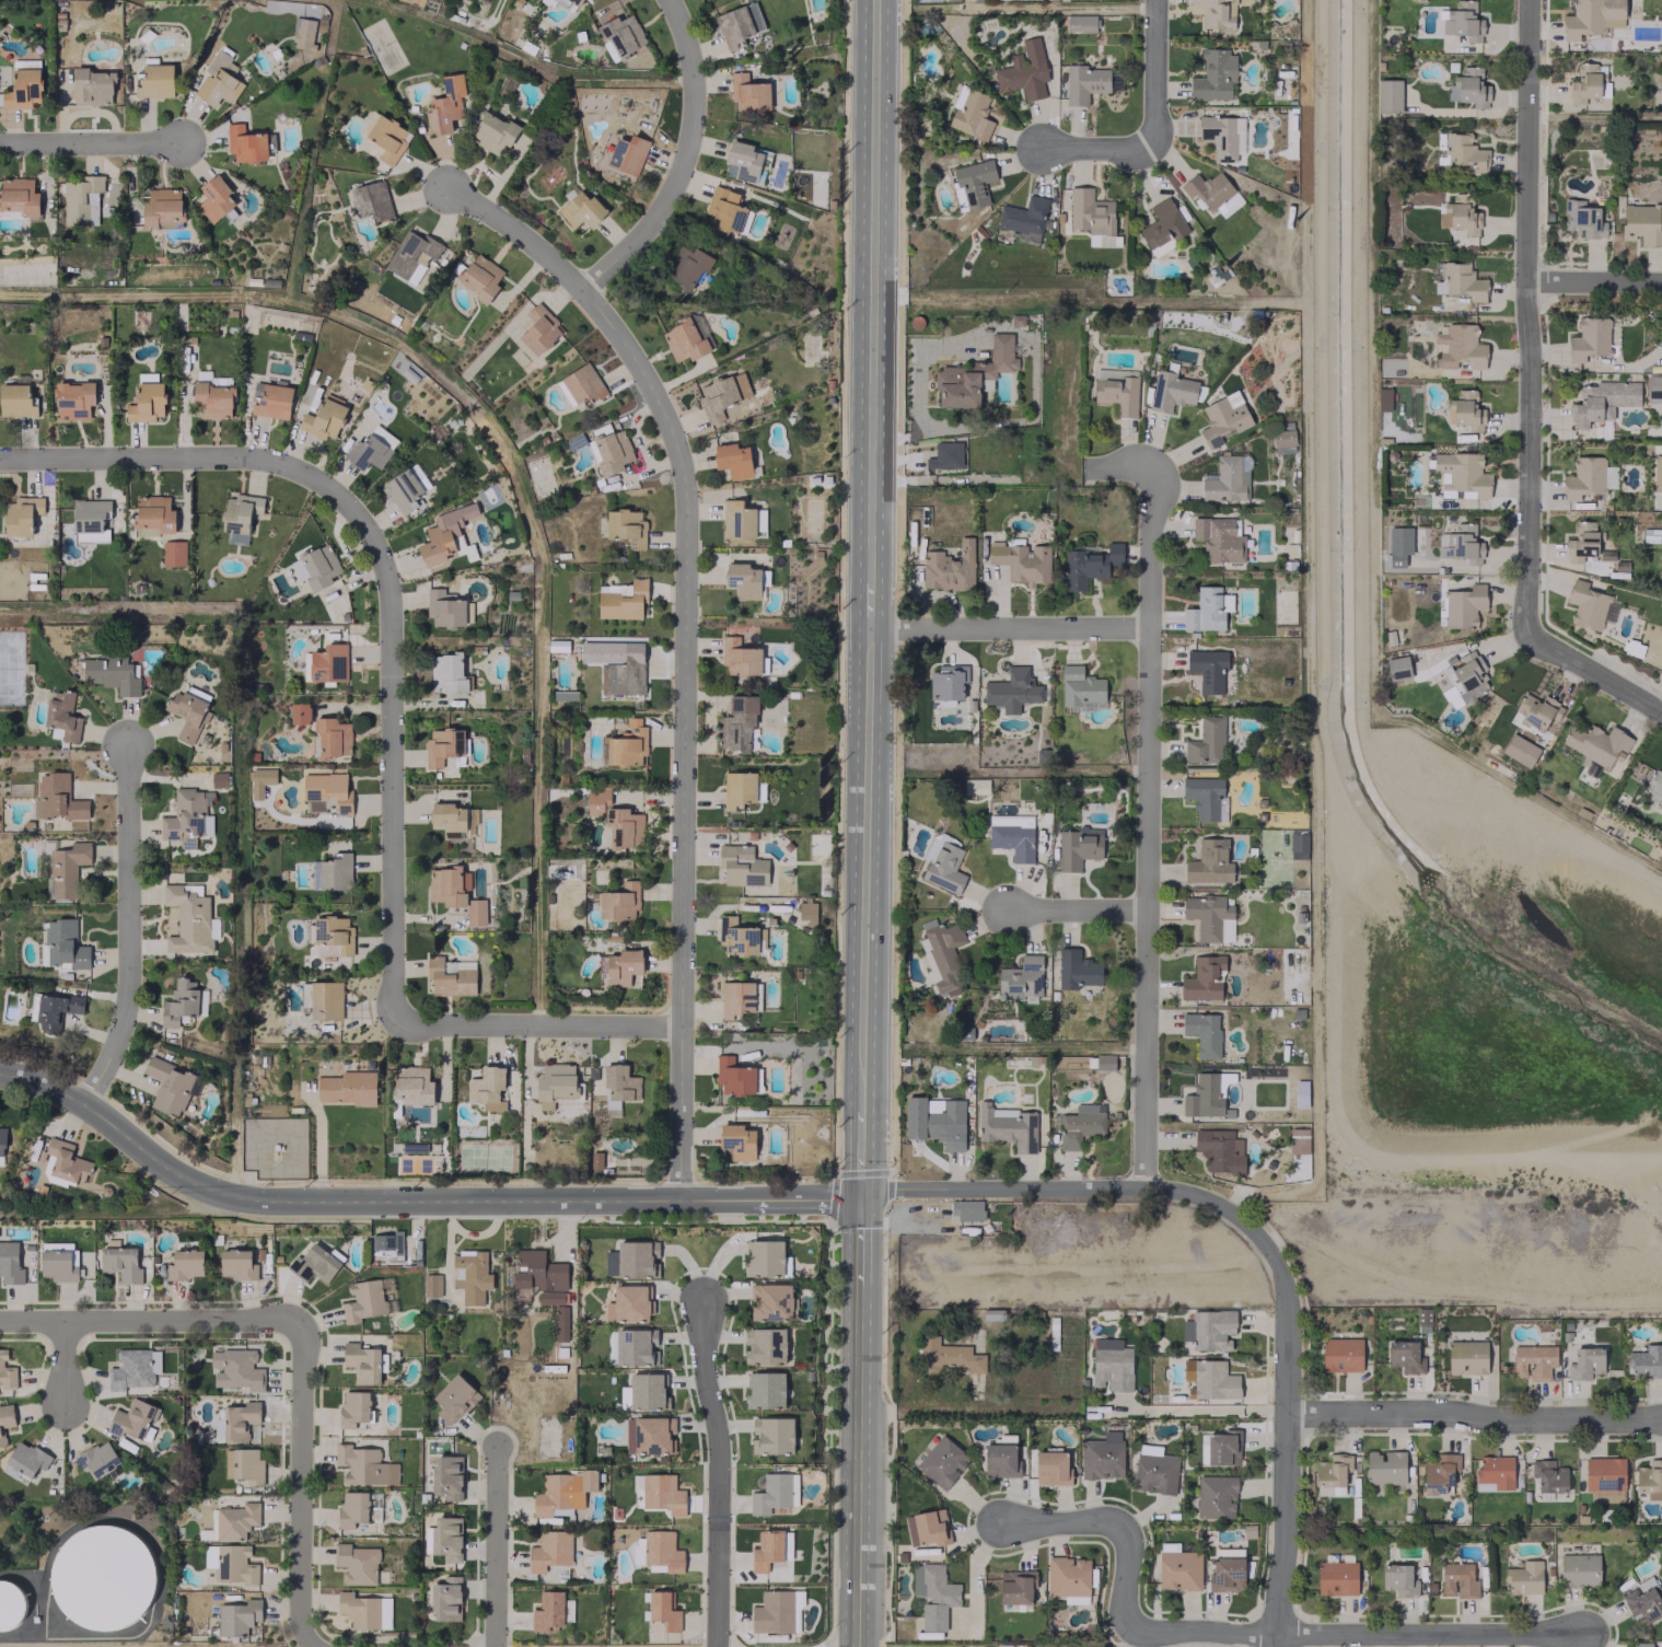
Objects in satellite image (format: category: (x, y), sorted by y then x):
building: (927, 0)
building: (576, 2)
building: (1212, 12)
building: (1591, 18)
building: (1463, 21)
building: (1080, 23)
building: (733, 25)
building: (304, 33)
building: (620, 35)
building: (1024, 71)
road: (1154, 74)
building: (1213, 76)
building: (154, 81)
building: (1084, 83)
building: (1584, 83)
building: (23, 84)
building: (94, 85)
building: (1472, 86)
building: (748, 93)
building: (1388, 95)
building: (445, 104)
building: (972, 115)
building: (492, 132)
building: (1222, 136)
building: (387, 138)
road: (93, 142)
building: (245, 143)
road: (1096, 148)
building: (1464, 153)
building: (743, 160)
building: (972, 182)
building: (1212, 192)
building: (19, 195)
building: (214, 198)
building: (370, 199)
building: (81, 200)
building: (162, 208)
building: (581, 209)
building: (724, 209)
building: (1460, 213)
building: (1092, 217)
building: (1024, 218)
building: (1583, 219)
building: (1641, 223)
building: (1162, 224)
road: (515, 232)
building: (412, 255)
building: (689, 264)
building: (1216, 276)
building: (480, 277)
building: (1460, 281)
road: (1594, 281)
road: (872, 312)
road: (1527, 314)
building: (538, 329)
building: (684, 339)
building: (1460, 346)
road: (1033, 353)
building: (973, 374)
building: (583, 383)
building: (1653, 387)
building: (1116, 391)
building: (1171, 391)
building: (211, 396)
building: (717, 397)
building: (73, 398)
building: (16, 399)
building: (146, 399)
building: (270, 399)
building: (1601, 401)
building: (1467, 410)
building: (1282, 440)
building: (370, 448)
building: (611, 451)
building: (944, 455)
road: (164, 456)
building: (733, 459)
road: (1127, 464)
building: (1463, 473)
building: (1657, 473)
building: (1609, 476)
building: (1583, 477)
building: (1227, 478)
building: (406, 488)
building: (154, 513)
building: (21, 515)
building: (239, 515)
building: (90, 519)
building: (736, 519)
building: (1648, 525)
building: (626, 526)
building: (443, 533)
building: (1218, 538)
building: (1585, 543)
building: (1460, 544)
building: (1398, 545)
building: (173, 553)
building: (1022, 561)
road: (682, 564)
building: (1089, 565)
building: (316, 567)
building: (949, 568)
building: (743, 579)
building: (621, 599)
building: (1463, 605)
building: (1588, 605)
building: (444, 607)
building: (1205, 610)
road: (1009, 626)
building: (740, 657)
building: (325, 663)
building: (1397, 666)
building: (1207, 669)
road: (1591, 671)
building: (112, 673)
building: (446, 673)
building: (623, 676)
building: (945, 684)
building: (1080, 689)
building: (1012, 691)
building: (187, 710)
building: (299, 712)
building: (62, 715)
building: (736, 723)
building: (333, 736)
road: (390, 741)
building: (1206, 741)
building: (1595, 743)
building: (627, 744)
building: (442, 745)
building: (1520, 750)
building: (219, 779)
building: (259, 781)
building: (1654, 782)
building: (737, 788)
building: (326, 792)
building: (1205, 797)
building: (57, 798)
building: (187, 817)
building: (449, 819)
building: (615, 819)
building: (751, 834)
building: (1012, 835)
road: (1144, 835)
building: (787, 845)
building: (1298, 846)
building: (1078, 847)
building: (1209, 862)
building: (741, 865)
road: (868, 866)
building: (66, 868)
building: (944, 868)
building: (332, 872)
building: (449, 885)
building: (619, 901)
road: (1074, 908)
building: (476, 912)
building: (806, 912)
building: (1209, 917)
building: (189, 919)
road: (126, 926)
building: (330, 936)
building: (736, 936)
building: (65, 944)
building: (943, 954)
building: (620, 966)
building: (1077, 969)
building: (453, 977)
building: (1202, 977)
building: (1020, 978)
building: (735, 997)
building: (325, 1000)
building: (178, 1002)
building: (55, 1009)
road: (537, 1024)
building: (1202, 1032)
building: (1104, 1062)
building: (733, 1076)
building: (556, 1083)
building: (411, 1085)
building: (619, 1085)
building: (171, 1086)
building: (347, 1087)
building: (487, 1087)
building: (1204, 1097)
building: (935, 1122)
building: (1080, 1125)
building: (1298, 1140)
building: (737, 1141)
building: (1, 1145)
road: (862, 1150)
building: (1219, 1150)
dam: (1530, 1151)
building: (67, 1161)
road: (1157, 1190)
road: (358, 1199)
road: (804, 1199)
building: (967, 1209)
road: (858, 1239)
building: (387, 1245)
building: (763, 1257)
building: (631, 1260)
building: (10, 1263)
building: (120, 1263)
building: (313, 1263)
building: (185, 1264)
building: (236, 1264)
building: (58, 1265)
building: (537, 1271)
building: (470, 1275)
building: (431, 1285)
building: (550, 1298)
building: (365, 1301)
building: (770, 1301)
building: (627, 1303)
road: (147, 1321)
building: (560, 1324)
building: (1209, 1329)
building: (765, 1345)
building: (636, 1346)
building: (948, 1355)
building: (1340, 1355)
building: (1404, 1356)
building: (1466, 1357)
building: (361, 1361)
building: (1534, 1361)
building: (1646, 1361)
road: (61, 1362)
building: (1585, 1362)
building: (1112, 1365)
building: (133, 1368)
building: (234, 1369)
building: (1213, 1380)
building: (765, 1390)
building: (646, 1391)
building: (624, 1395)
building: (453, 1399)
building: (352, 1407)
road: (1204, 1411)
road: (1475, 1416)
building: (131, 1418)
building: (239, 1419)
building: (5, 1420)
building: (647, 1435)
building: (772, 1435)
building: (1221, 1447)
building: (97, 1458)
building: (1101, 1459)
building: (24, 1460)
building: (999, 1460)
building: (942, 1461)
building: (244, 1465)
building: (363, 1465)
road: (856, 1465)
building: (1385, 1466)
building: (1051, 1468)
road: (716, 1472)
building: (1155, 1472)
building: (1496, 1472)
building: (1439, 1473)
building: (1332, 1474)
building: (446, 1475)
building: (1548, 1475)
building: (1604, 1478)
building: (1650, 1478)
road: (298, 1486)
building: (562, 1492)
building: (774, 1493)
building: (662, 1494)
building: (1216, 1496)
building: (352, 1508)
building: (235, 1520)
road: (1062, 1523)
road: (1287, 1530)
building: (446, 1538)
road: (495, 1545)
building: (549, 1550)
building: (766, 1550)
building: (661, 1551)
building: (356, 1563)
building: (235, 1565)
building: (1178, 1569)
building: (1579, 1569)
road: (973, 1574)
building: (1225, 1574)
building: (1068, 1576)
building: (102, 1577)
storage tank: (102, 1577)
building: (1336, 1577)
building: (1524, 1577)
building: (1401, 1580)
building: (1458, 1580)
building: (1015, 1587)
building: (933, 1594)
building: (445, 1598)
building: (1641, 1601)
building: (10, 1604)
storage tank: (10, 1604)
building: (364, 1610)
building: (547, 1610)
building: (663, 1610)
building: (777, 1612)
building: (237, 1616)
road: (1310, 1634)
building: (1649, 1646)

